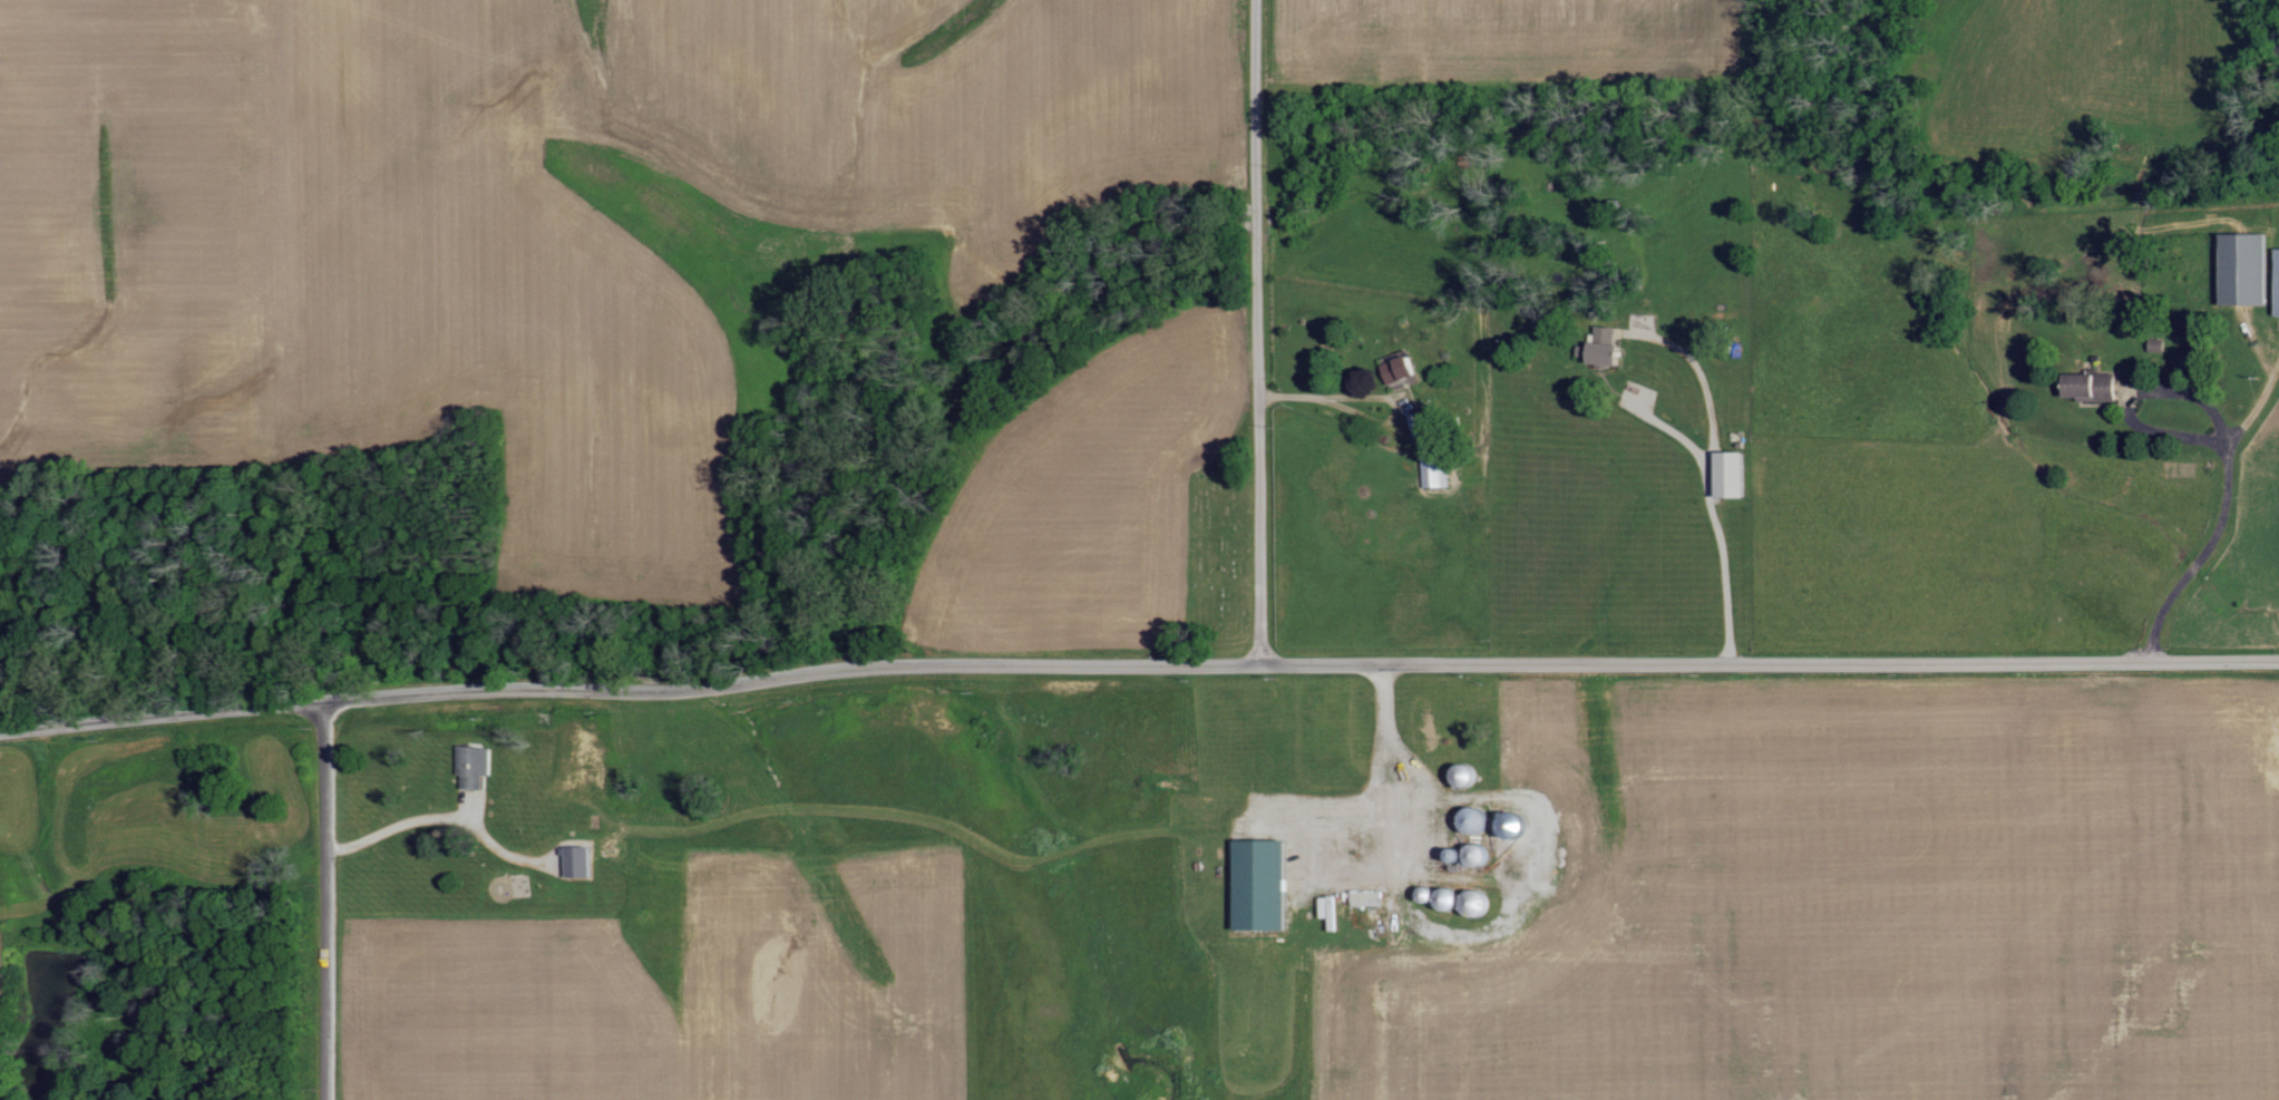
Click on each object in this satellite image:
building: (2239, 269)
building: (2275, 282)
road: (1264, 333)
building: (1599, 343)
building: (1394, 370)
building: (2085, 387)
road: (1380, 398)
road: (1671, 431)
building: (1434, 473)
building: (1725, 475)
road: (1706, 479)
park: (1219, 554)
road: (1138, 668)
building: (481, 767)
building: (586, 864)
building: (1256, 886)
building: (1364, 898)
road: (328, 901)
building: (1326, 912)

